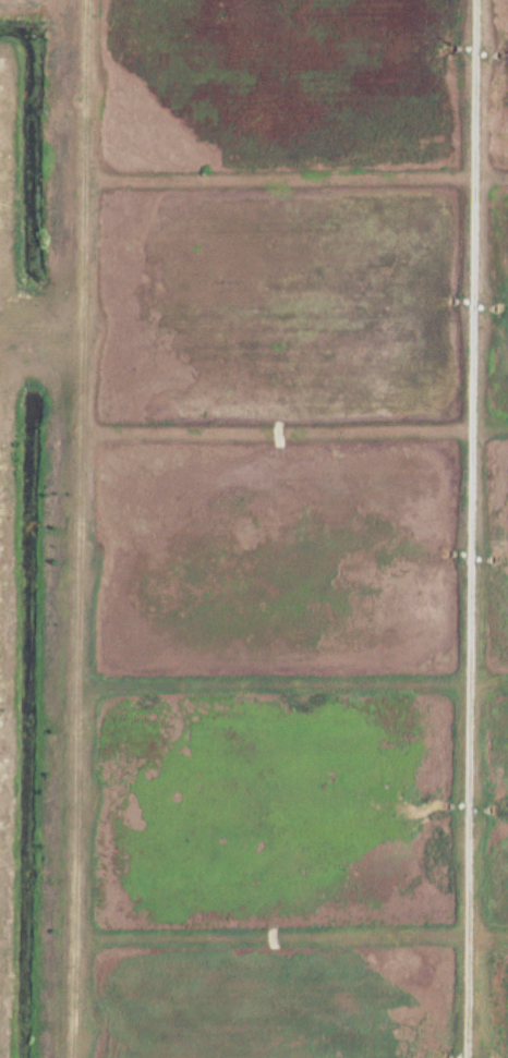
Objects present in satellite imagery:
wastewater plant: (254, 528)

